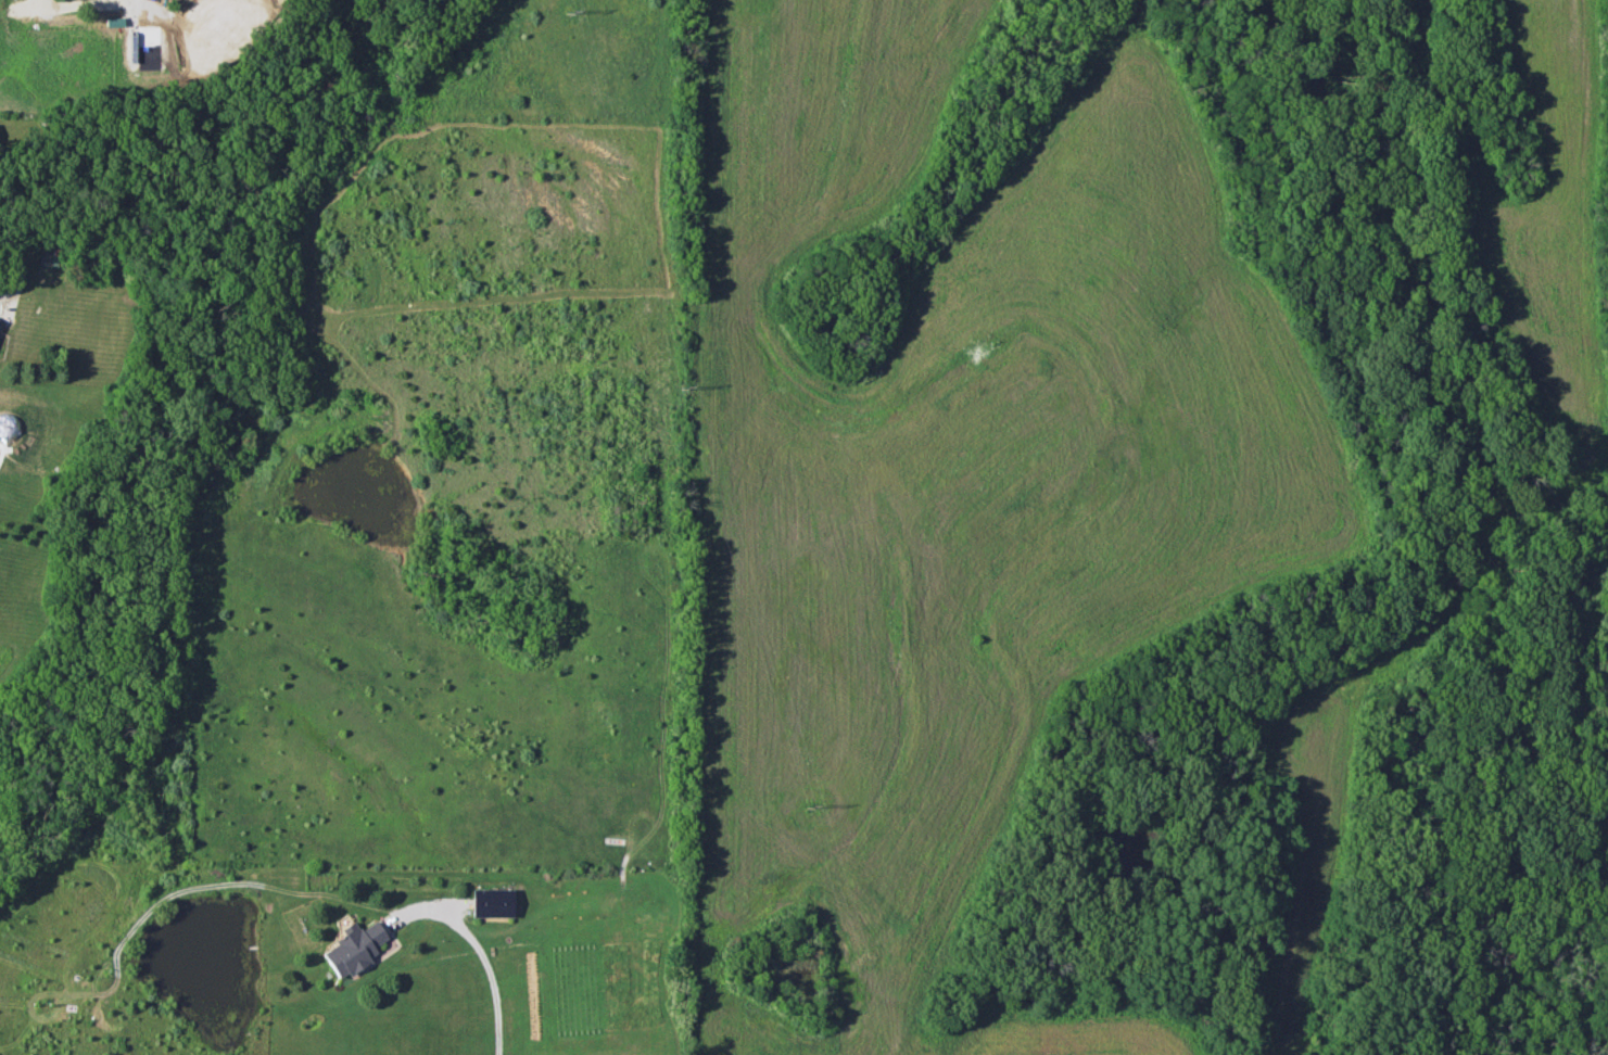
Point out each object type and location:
building: (490, 902)
building: (352, 946)
road: (476, 946)

